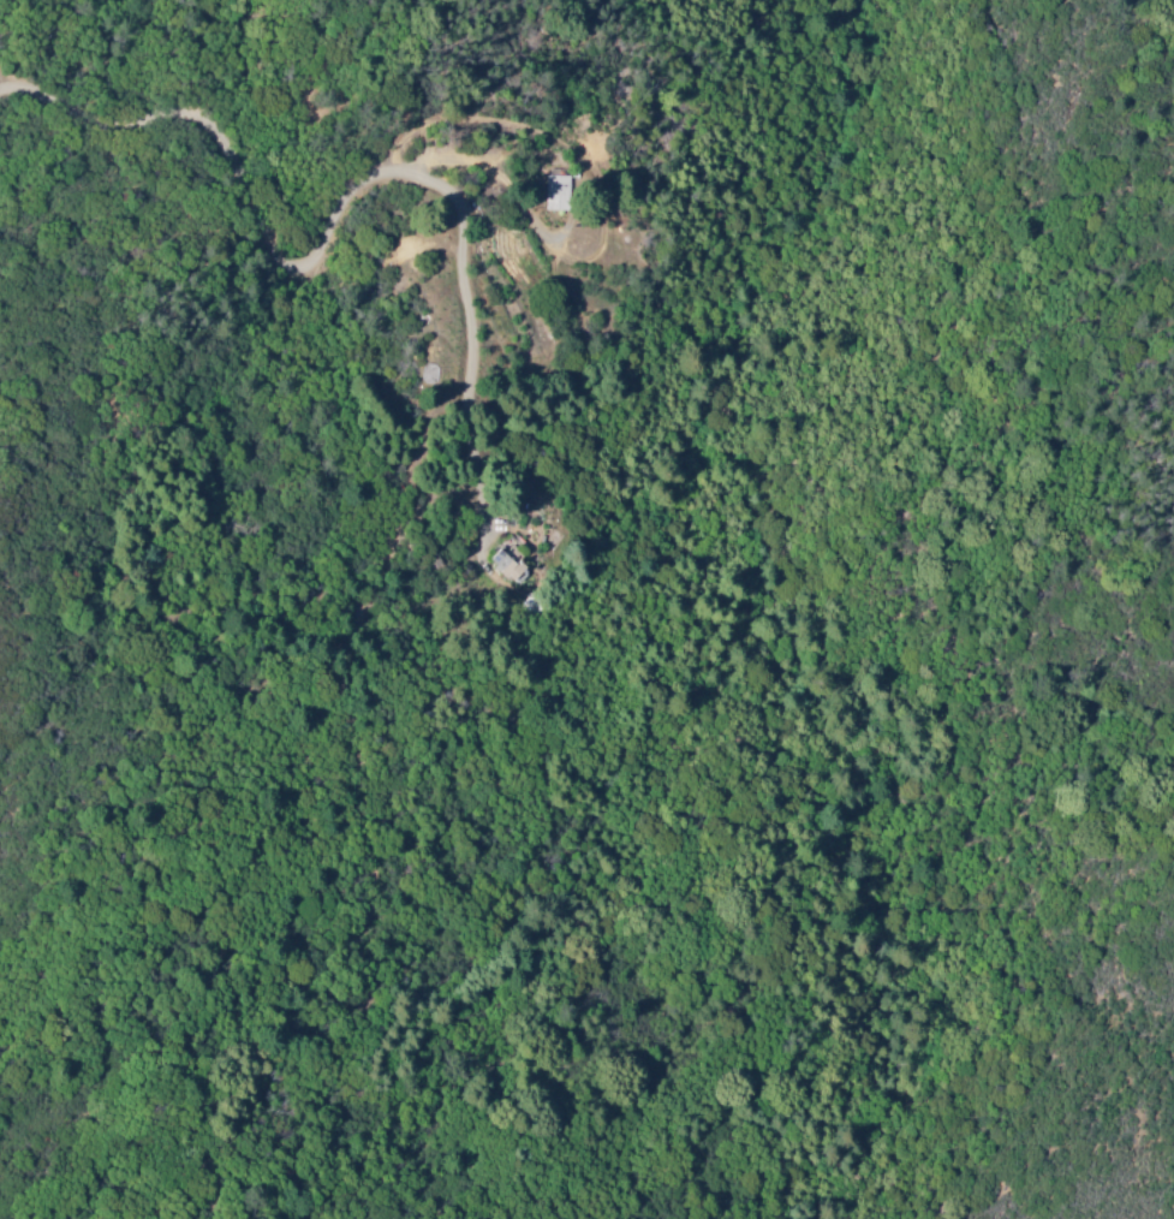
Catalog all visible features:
road: (258, 198)
building: (505, 567)
road: (756, 614)

